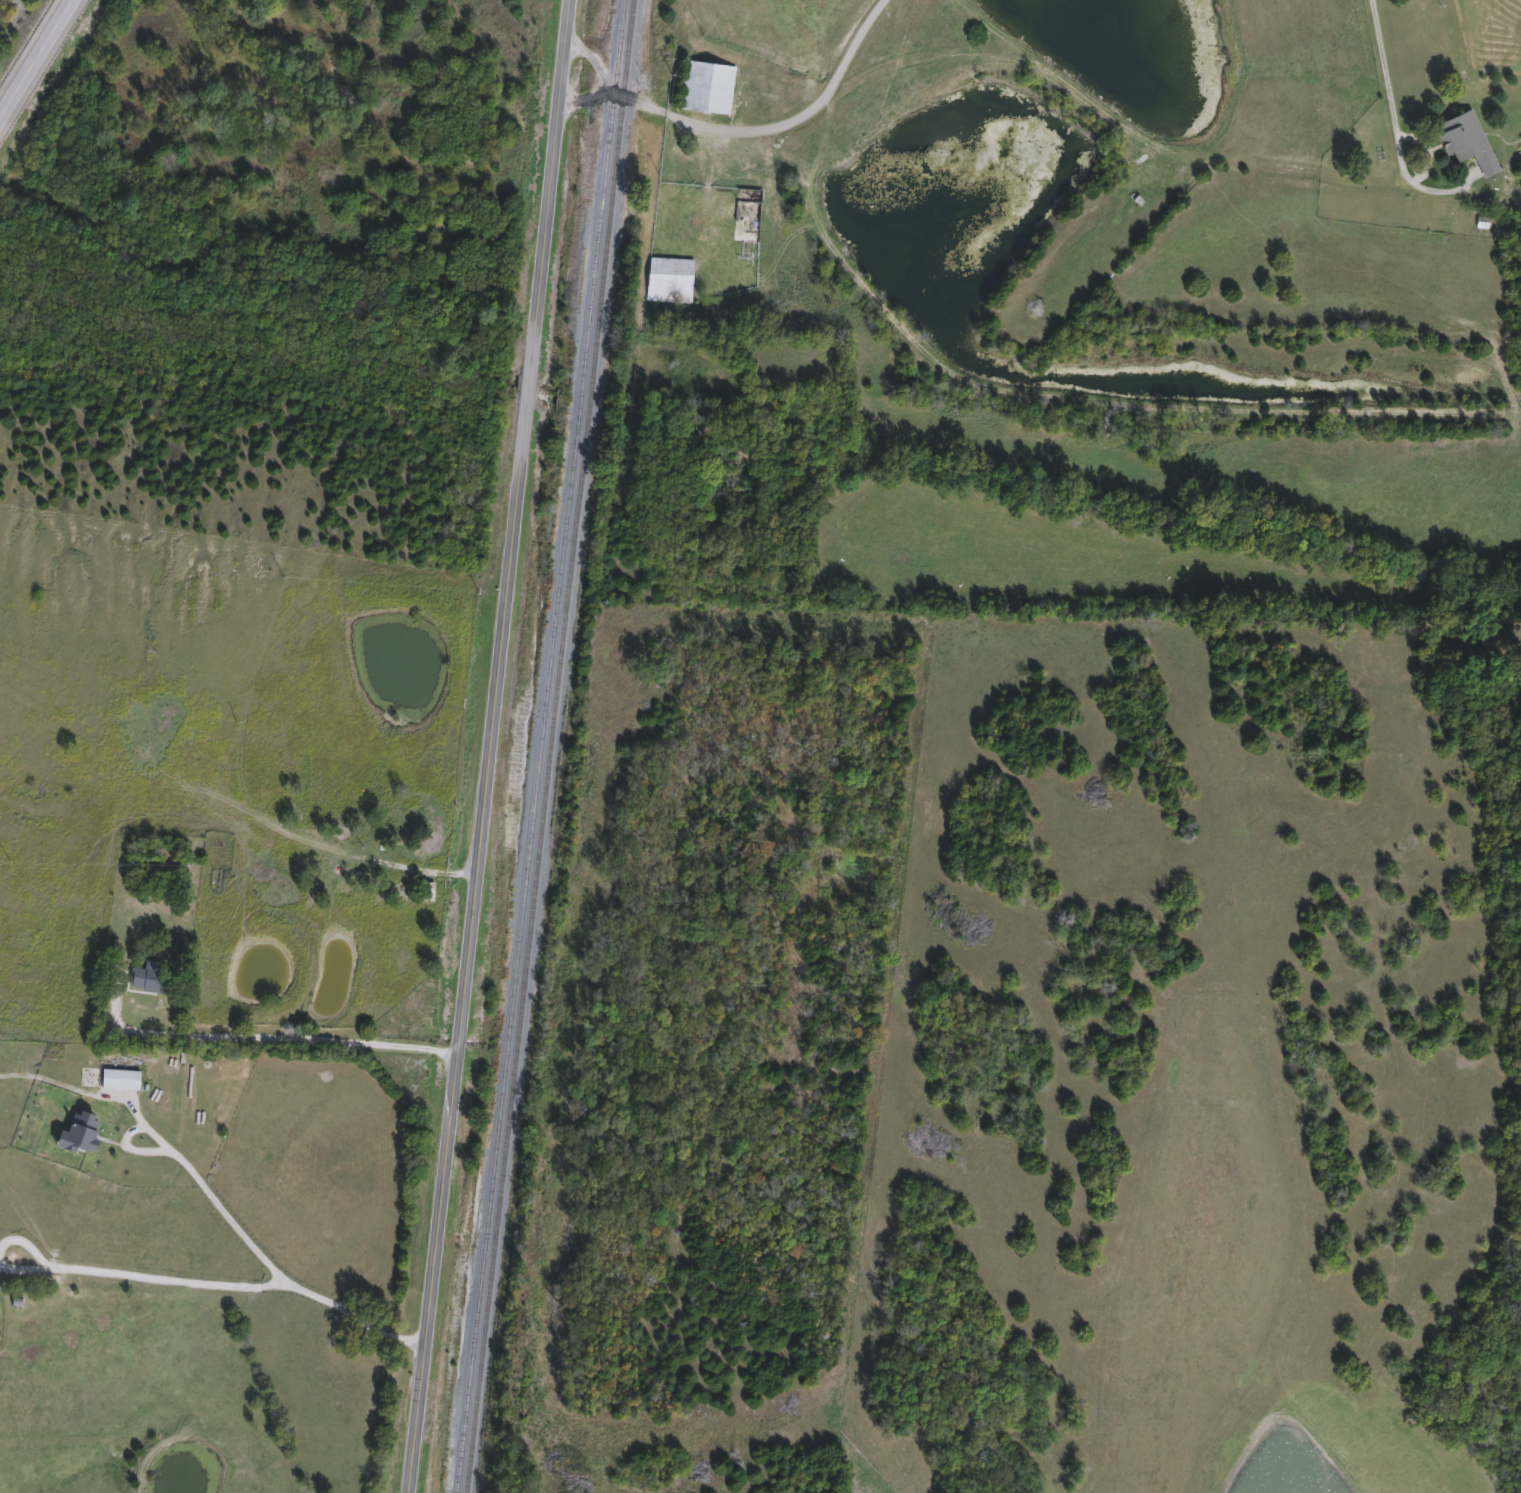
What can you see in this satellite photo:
road: (37, 60)
road: (594, 62)
building: (707, 88)
road: (1393, 114)
road: (751, 130)
building: (1467, 142)
building: (670, 281)
road: (491, 746)
railway: (540, 746)
railway: (548, 746)
building: (427, 893)
building: (149, 978)
road: (271, 1037)
building: (120, 1081)
building: (80, 1135)
road: (259, 1264)
road: (138, 1278)

